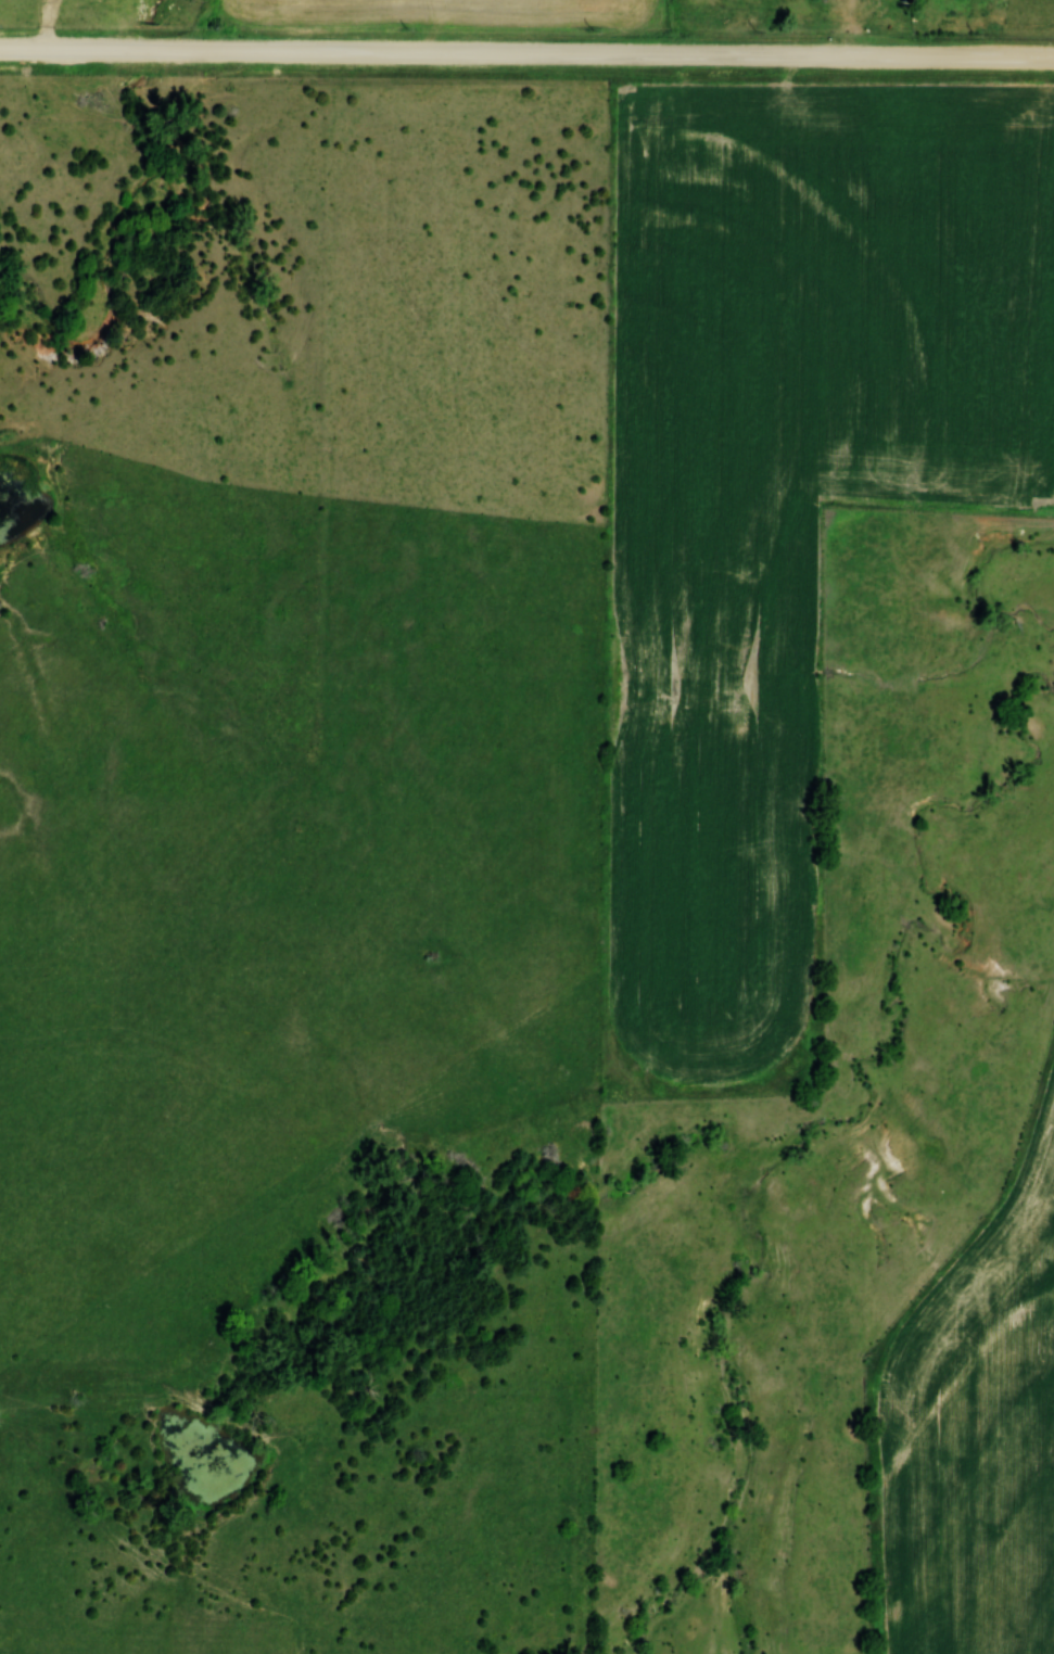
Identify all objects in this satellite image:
road: (526, 52)
crop: (790, 480)

